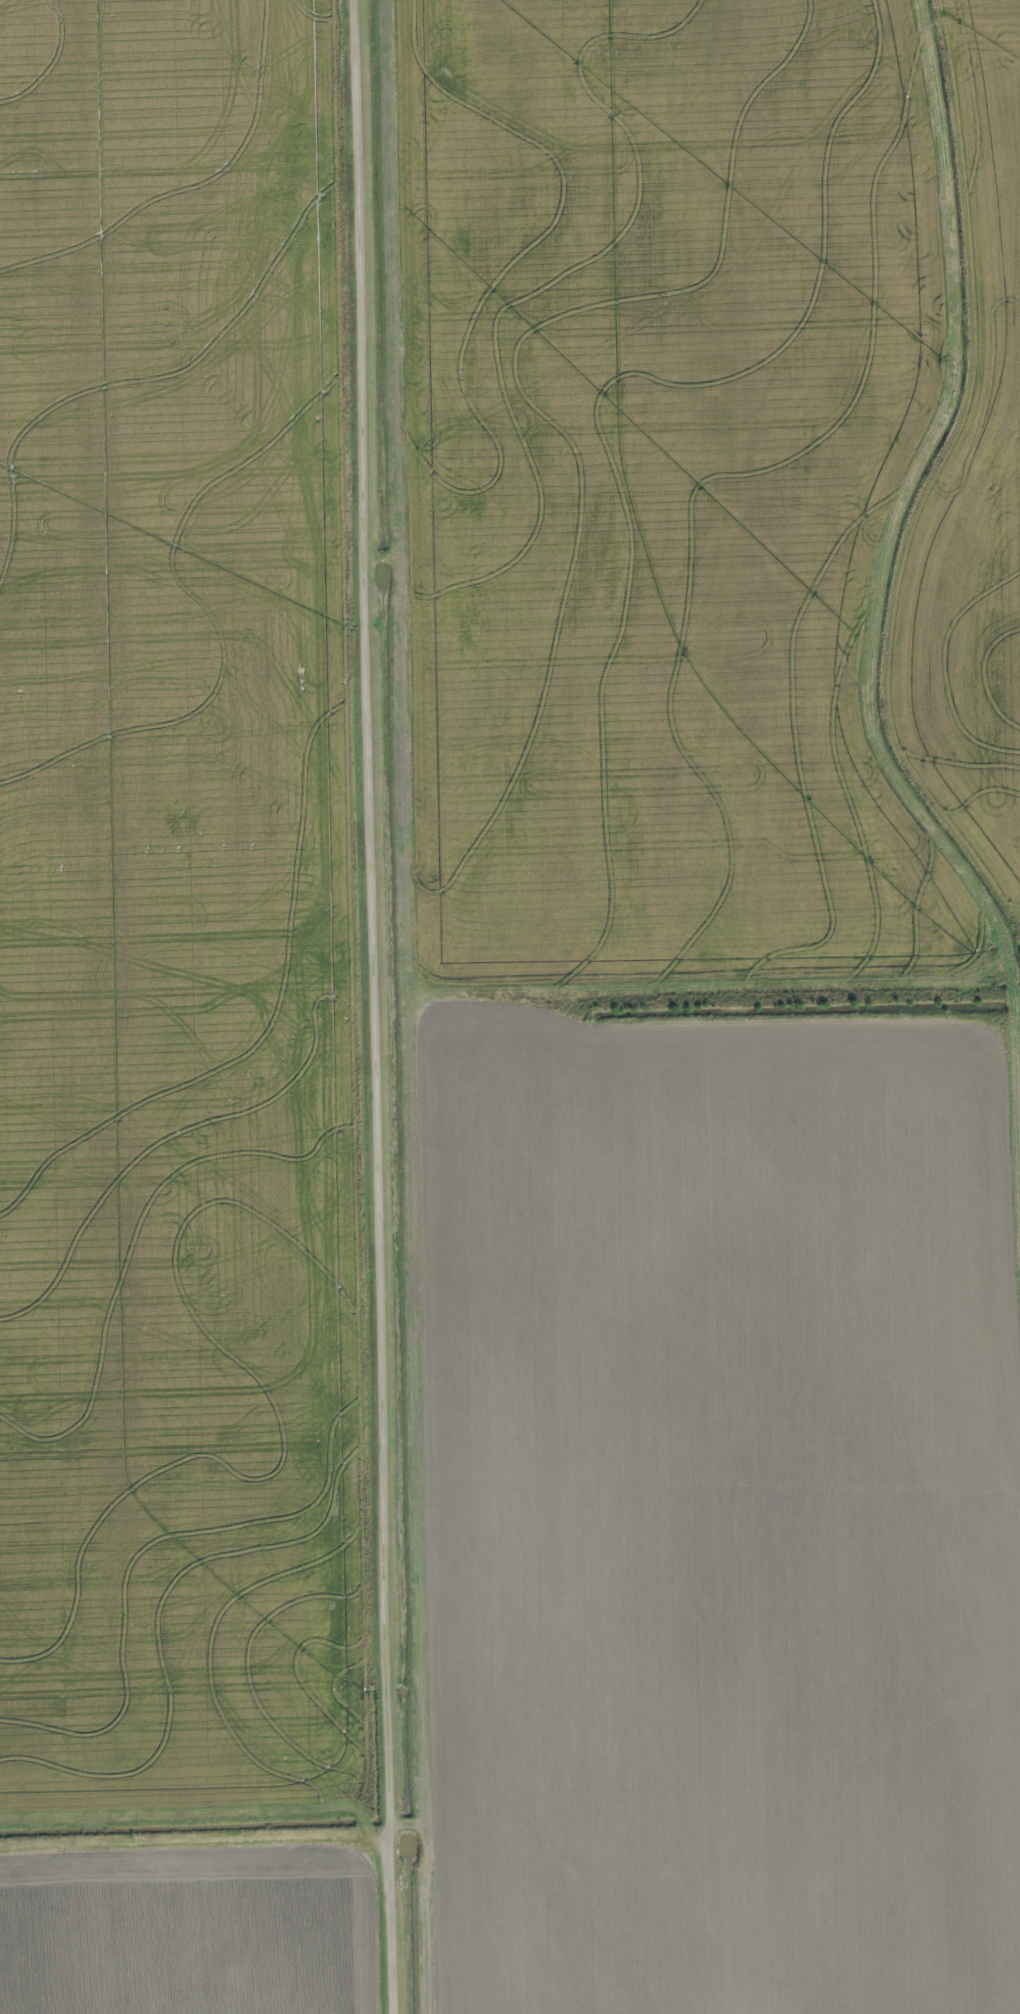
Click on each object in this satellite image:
road: (376, 1007)

